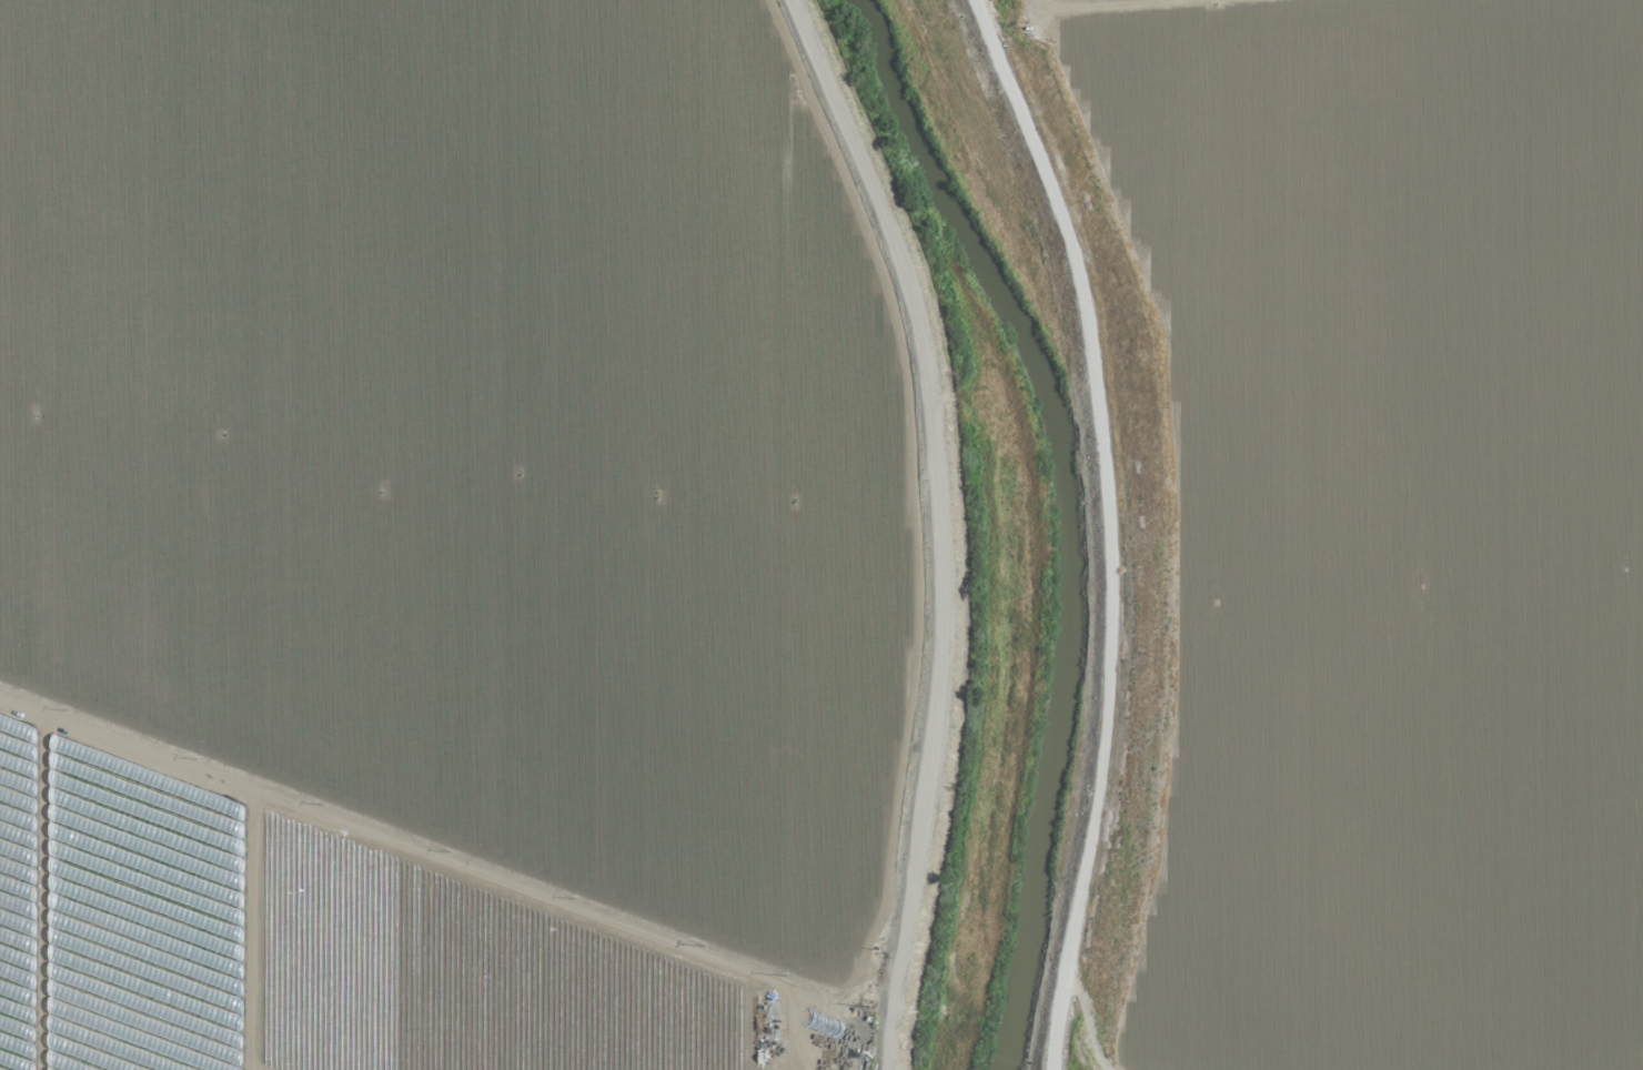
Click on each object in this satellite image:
road: (939, 524)
crop: (1354, 529)
crop: (437, 541)
road: (430, 859)

